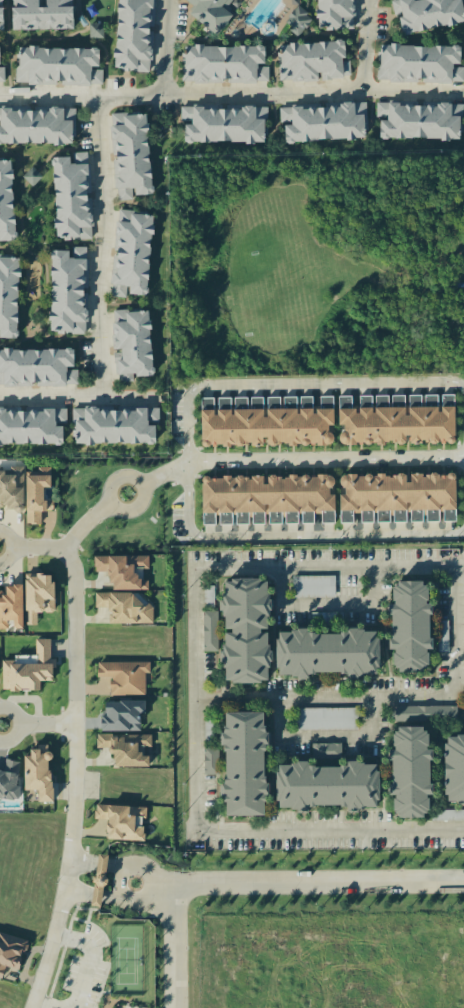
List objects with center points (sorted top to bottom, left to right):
road: (368, 45)
road: (164, 48)
road: (230, 93)
building: (170, 169)
road: (101, 249)
road: (292, 385)
road: (79, 400)
building: (305, 401)
building: (344, 401)
building: (248, 402)
building: (398, 419)
building: (265, 423)
road: (462, 454)
road: (462, 457)
road: (324, 459)
road: (164, 472)
road: (141, 483)
building: (11, 486)
building: (395, 492)
building: (36, 494)
building: (264, 498)
building: (424, 515)
building: (448, 515)
building: (366, 516)
building: (382, 516)
building: (399, 516)
building: (290, 517)
building: (307, 517)
road: (86, 523)
road: (293, 535)
road: (11, 549)
road: (39, 549)
building: (123, 570)
road: (202, 571)
building: (312, 586)
building: (463, 594)
building: (38, 596)
road: (329, 603)
building: (11, 605)
building: (124, 607)
building: (409, 625)
building: (463, 629)
building: (208, 630)
building: (245, 630)
building: (442, 635)
building: (326, 652)
building: (28, 668)
building: (125, 676)
road: (385, 693)
building: (423, 713)
building: (121, 714)
building: (325, 718)
road: (37, 724)
road: (328, 735)
building: (325, 749)
building: (209, 760)
building: (244, 763)
building: (453, 768)
building: (410, 771)
building: (38, 772)
building: (9, 779)
road: (73, 780)
building: (327, 785)
building: (449, 815)
building: (122, 821)
road: (331, 831)
road: (92, 861)
road: (147, 867)
building: (99, 879)
road: (318, 885)
road: (120, 898)
road: (173, 948)
building: (10, 951)
road: (83, 977)

